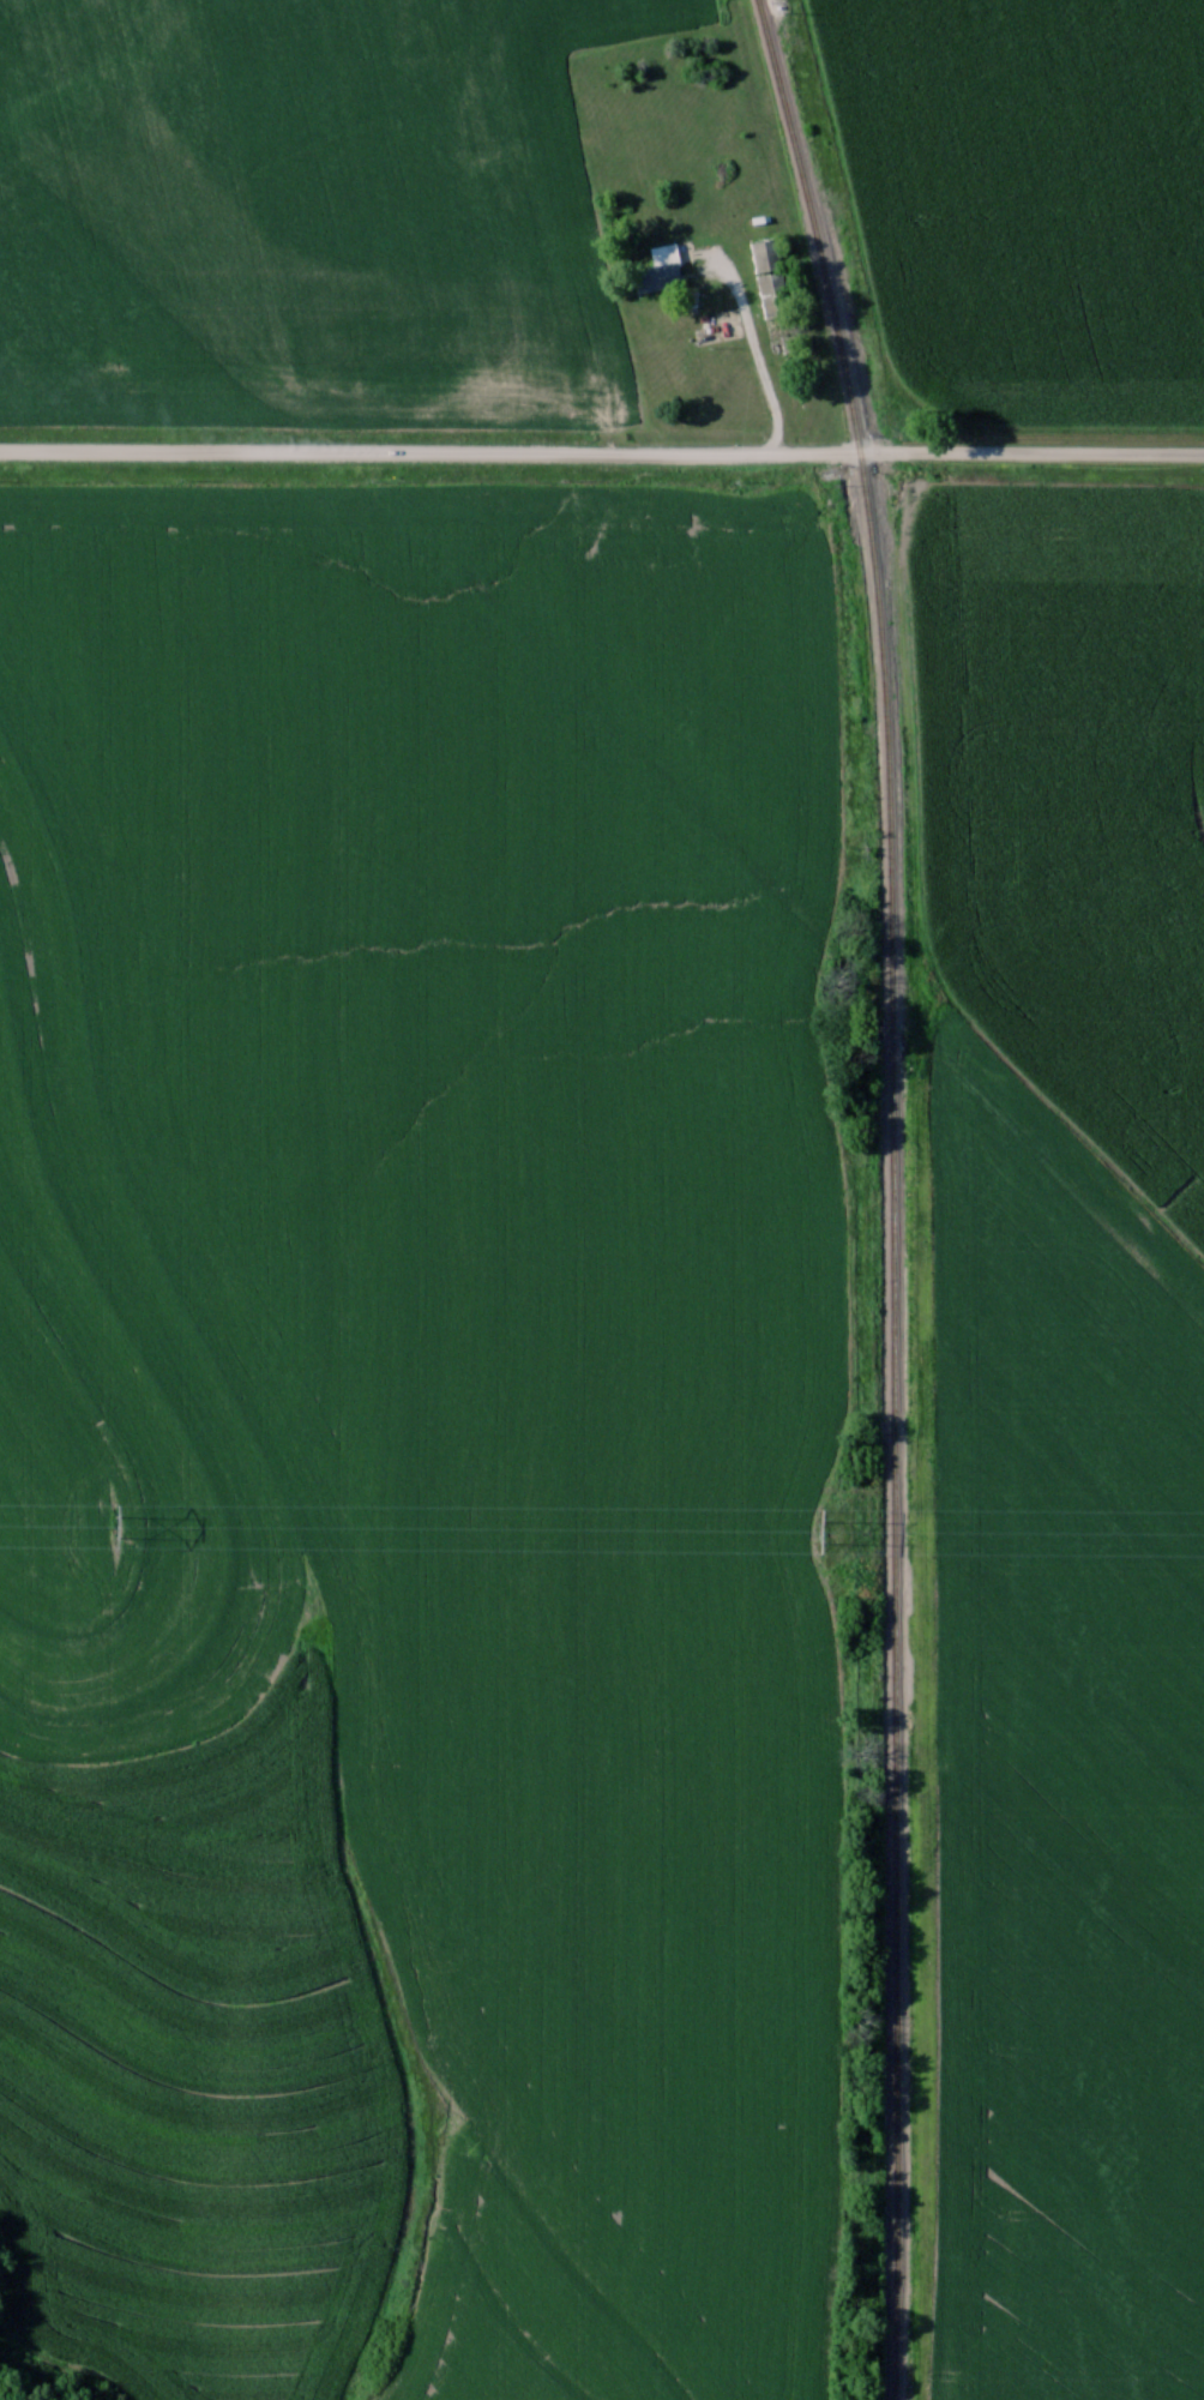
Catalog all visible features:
building: (661, 266)
building: (769, 273)
road: (759, 342)
road: (602, 449)
railway: (895, 1192)
power tower: (115, 1521)
power tower: (823, 1527)

